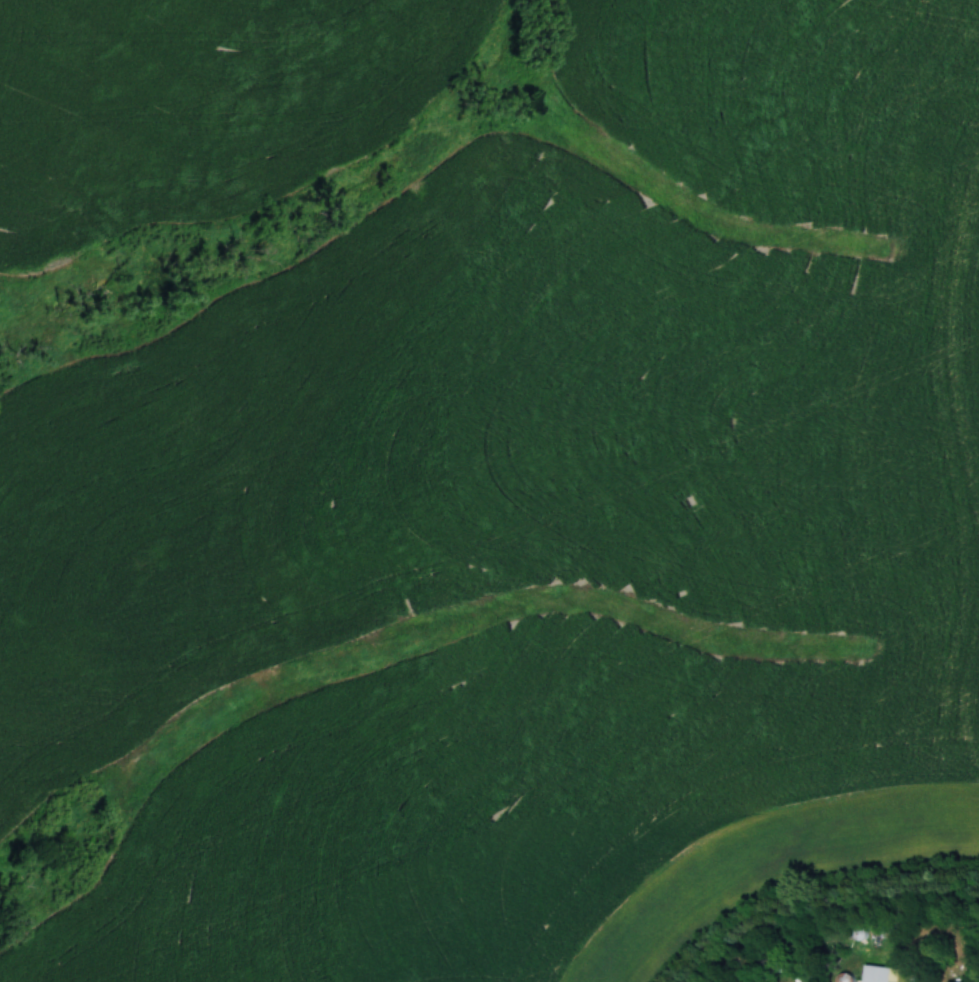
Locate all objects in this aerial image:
building: (876, 974)
building: (842, 978)

